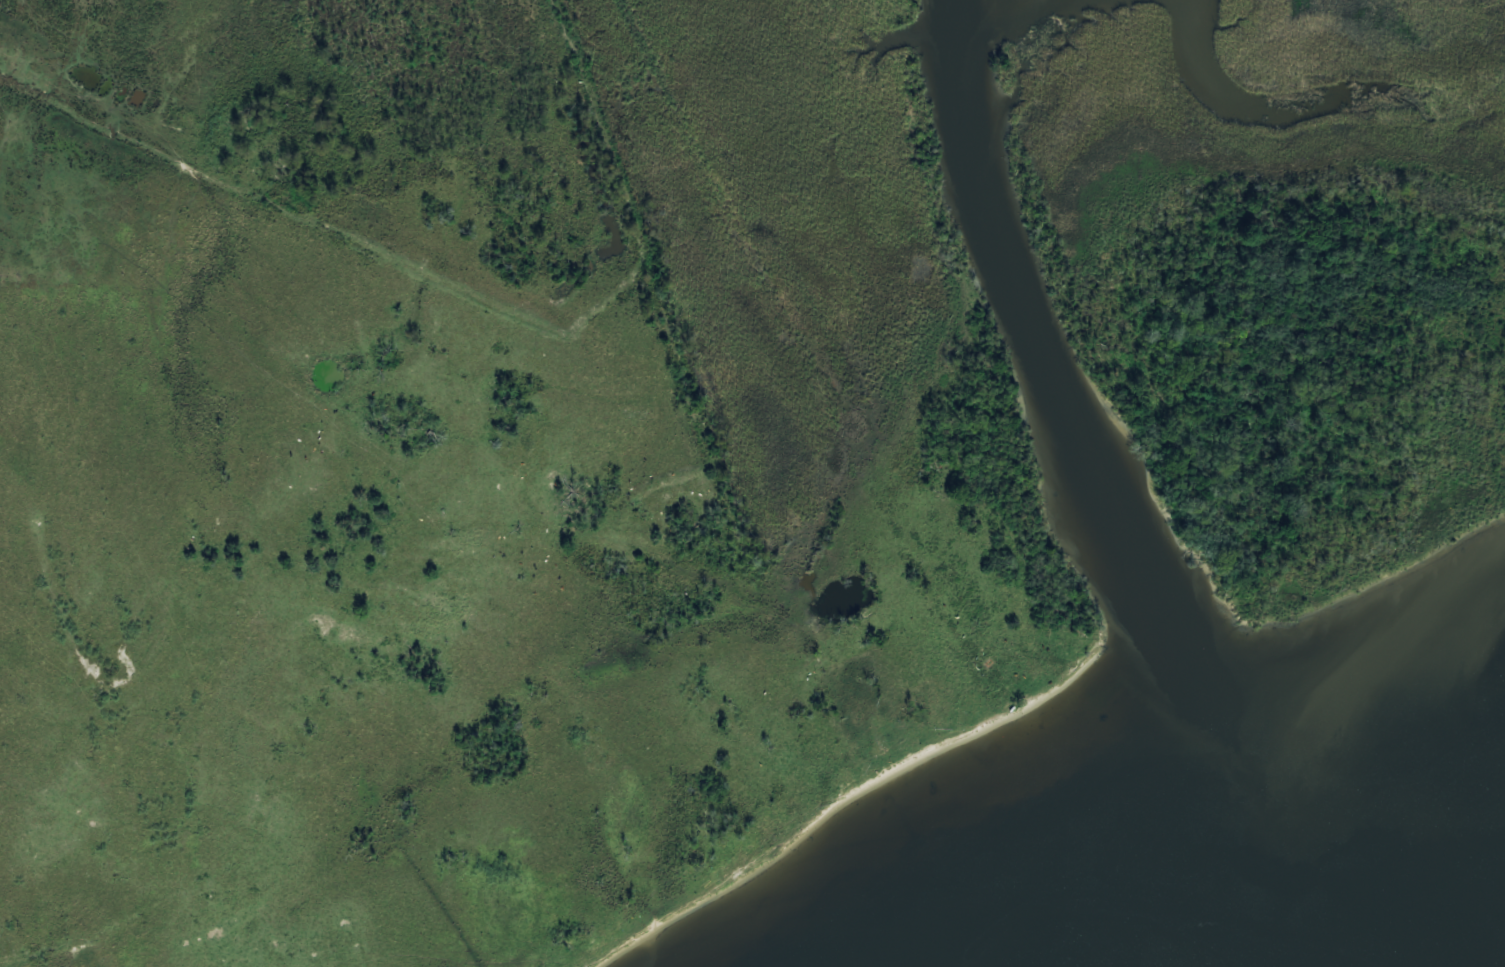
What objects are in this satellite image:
river: (1443, 935)

